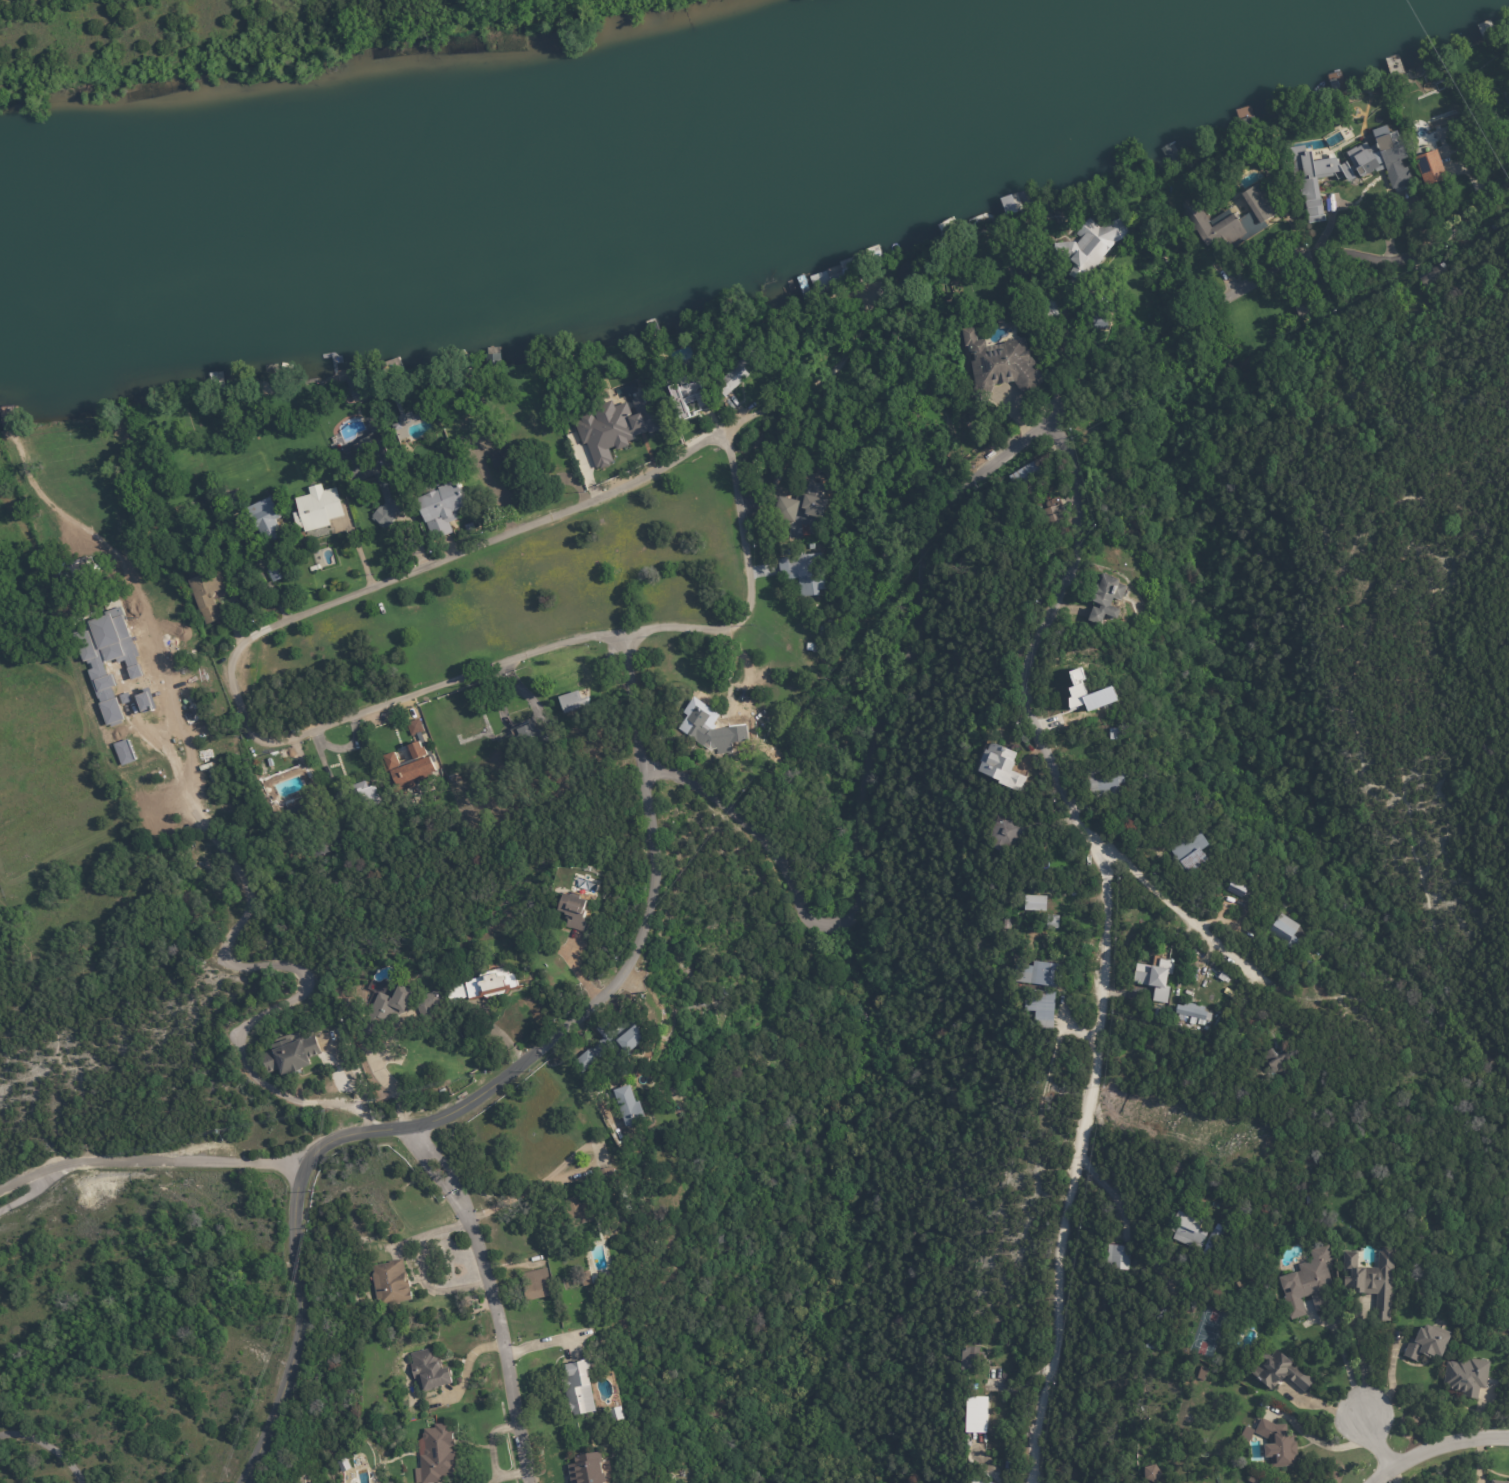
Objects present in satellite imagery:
building: (1338, 100)
river: (640, 154)
building: (1380, 160)
building: (1430, 171)
building: (1313, 181)
building: (1229, 225)
building: (1096, 246)
building: (1433, 277)
building: (1055, 306)
building: (1103, 311)
building: (1302, 314)
building: (1008, 323)
building: (1093, 354)
building: (660, 355)
building: (1002, 363)
building: (1246, 363)
building: (746, 369)
building: (360, 388)
building: (690, 405)
building: (710, 405)
building: (411, 425)
building: (626, 425)
building: (501, 458)
building: (375, 473)
building: (1026, 475)
building: (803, 496)
building: (445, 508)
building: (321, 509)
building: (1048, 517)
building: (266, 519)
road: (935, 522)
road: (518, 525)
building: (472, 529)
building: (1045, 553)
building: (278, 565)
building: (315, 567)
building: (806, 570)
building: (214, 595)
building: (1105, 599)
building: (815, 649)
road: (542, 651)
building: (108, 658)
building: (1088, 694)
building: (146, 701)
building: (575, 703)
road: (632, 703)
building: (455, 722)
building: (418, 729)
building: (713, 732)
building: (535, 733)
building: (124, 752)
building: (1001, 763)
building: (408, 767)
building: (1110, 781)
building: (355, 797)
building: (305, 828)
building: (349, 828)
building: (1010, 832)
building: (1198, 852)
building: (1242, 888)
building: (1035, 903)
building: (577, 912)
building: (1056, 922)
building: (1010, 924)
building: (1282, 931)
road: (231, 935)
road: (1097, 935)
road: (1217, 945)
building: (1044, 973)
building: (1158, 978)
building: (487, 986)
building: (402, 1008)
building: (1047, 1008)
building: (1195, 1012)
building: (1219, 1012)
building: (1164, 1014)
building: (1232, 1035)
building: (616, 1042)
building: (295, 1055)
building: (1274, 1060)
park: (35, 1073)
road: (355, 1086)
road: (391, 1086)
building: (630, 1106)
road: (428, 1124)
road: (151, 1163)
road: (1108, 1192)
road: (514, 1197)
building: (603, 1204)
building: (1184, 1231)
building: (1212, 1238)
building: (1121, 1258)
road: (421, 1270)
building: (1370, 1277)
building: (603, 1279)
building: (1306, 1281)
building: (395, 1284)
building: (539, 1284)
road: (491, 1299)
building: (1474, 1317)
park: (1207, 1331)
building: (1427, 1342)
building: (1157, 1343)
road: (1359, 1357)
building: (975, 1361)
building: (428, 1367)
building: (1273, 1369)
building: (1466, 1375)
road: (1391, 1382)
building: (583, 1388)
building: (977, 1412)
building: (620, 1415)
building: (1247, 1432)
road: (1318, 1441)
road: (1381, 1441)
building: (1279, 1442)
road: (1438, 1447)
building: (436, 1453)
building: (342, 1464)
building: (590, 1469)
building: (1011, 1470)
building: (1151, 1473)
building: (1252, 1479)
building: (980, 1481)
building: (1498, 1481)

